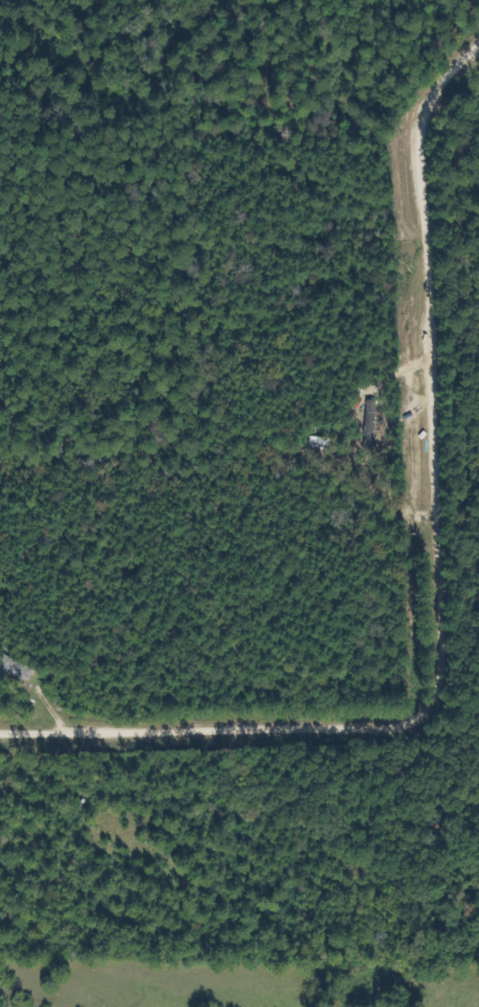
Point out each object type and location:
road: (438, 579)
building: (12, 672)

